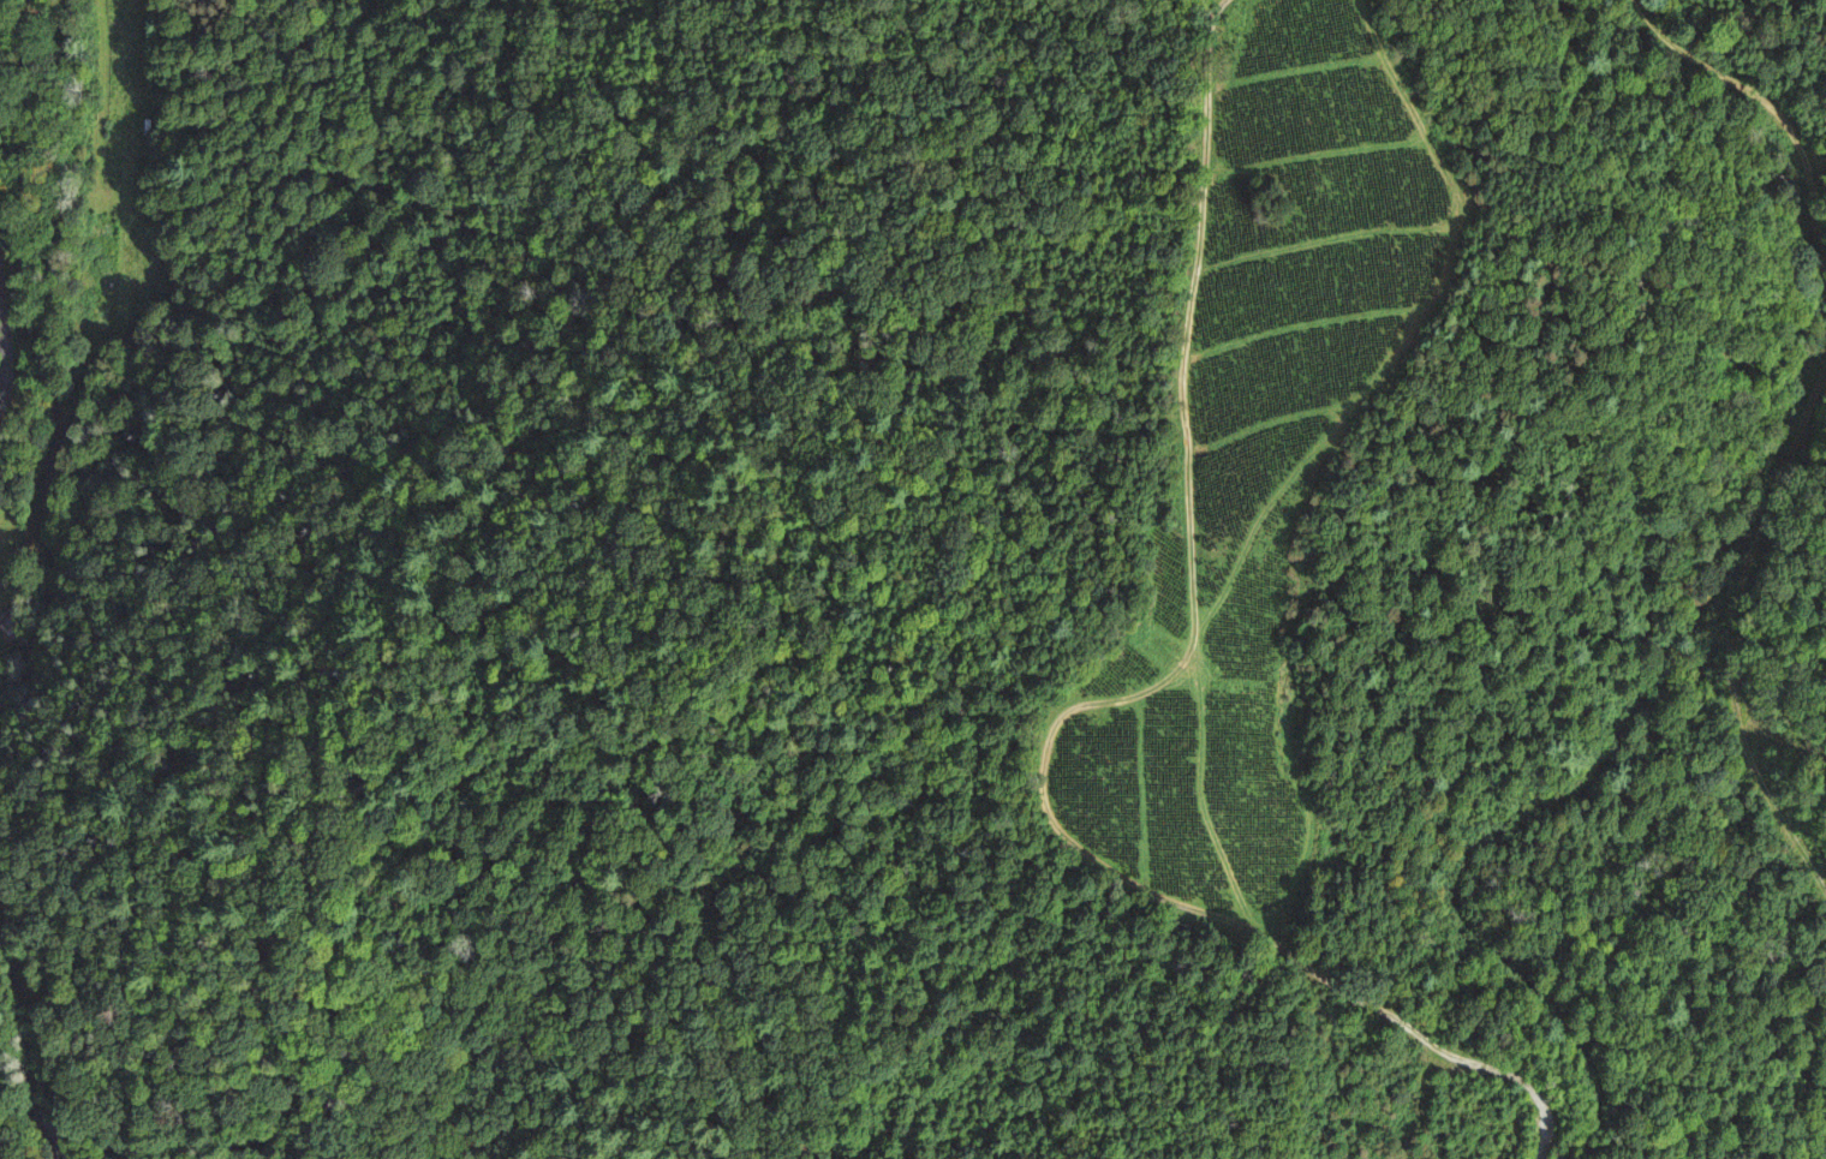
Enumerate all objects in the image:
road: (4, 368)
road: (1088, 705)
road: (1494, 830)

